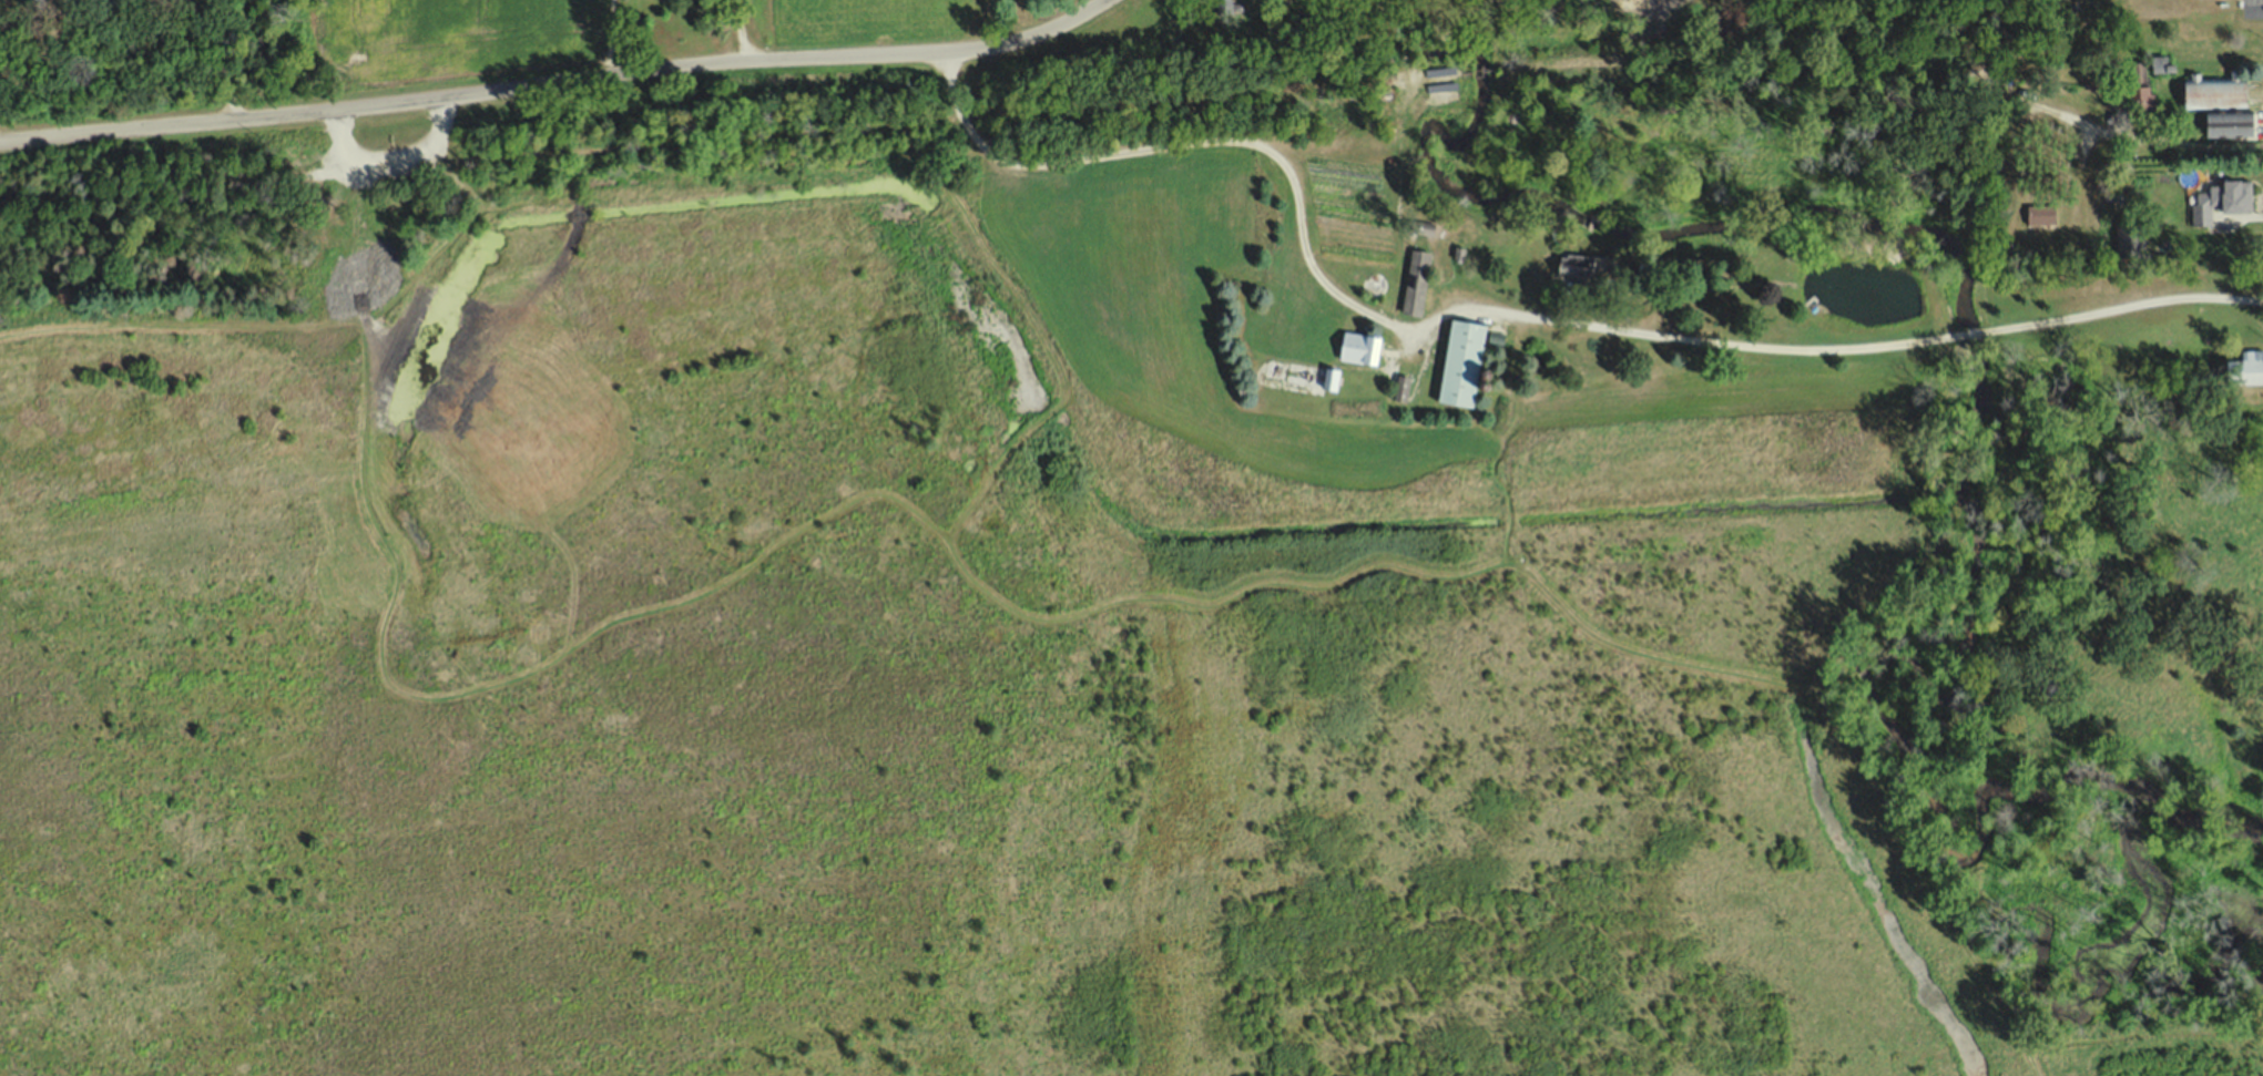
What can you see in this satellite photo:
building: (40, 4)
building: (1226, 11)
road: (734, 31)
building: (2161, 62)
road: (558, 85)
building: (2132, 90)
building: (2215, 94)
building: (2232, 126)
road: (2128, 135)
parking lot: (395, 136)
road: (389, 156)
road: (224, 183)
building: (2220, 204)
building: (2041, 218)
building: (2130, 239)
road: (446, 243)
building: (1592, 268)
building: (1416, 280)
building: (1378, 284)
road: (1513, 314)
road: (180, 320)
building: (1360, 346)
building: (1462, 361)
building: (2247, 370)
building: (1299, 371)
building: (1401, 386)
road: (1118, 598)

